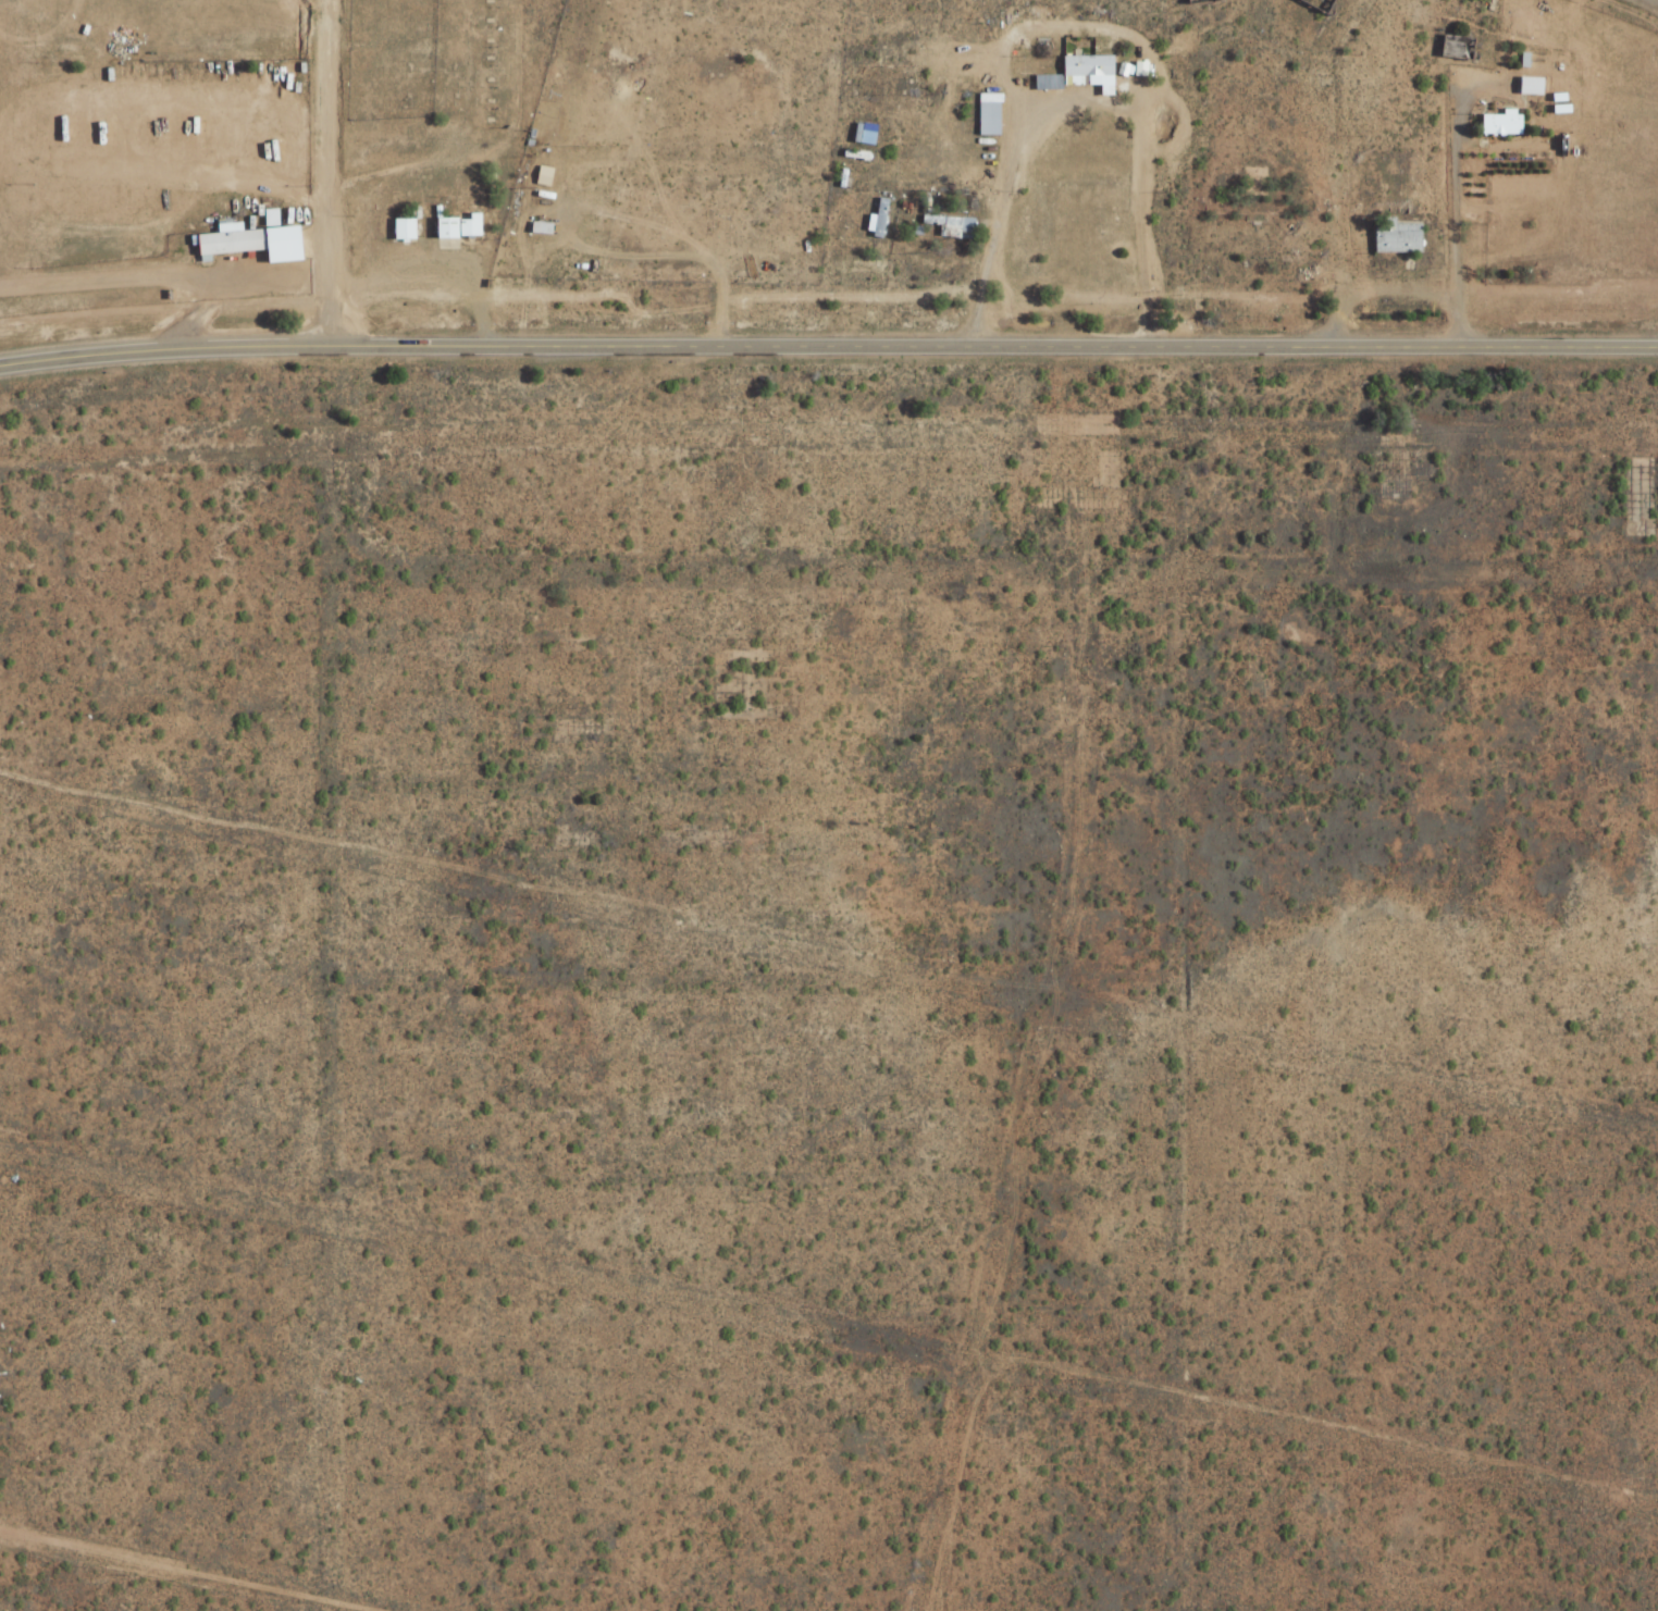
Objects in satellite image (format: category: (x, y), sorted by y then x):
road: (322, 1)
road: (1655, 1)
building: (32, 41)
building: (1078, 72)
building: (1530, 86)
building: (1500, 124)
building: (863, 134)
road: (330, 172)
building: (877, 216)
building: (449, 227)
building: (945, 227)
building: (401, 230)
building: (1397, 237)
building: (228, 240)
road: (164, 275)
road: (828, 346)
road: (188, 1572)

